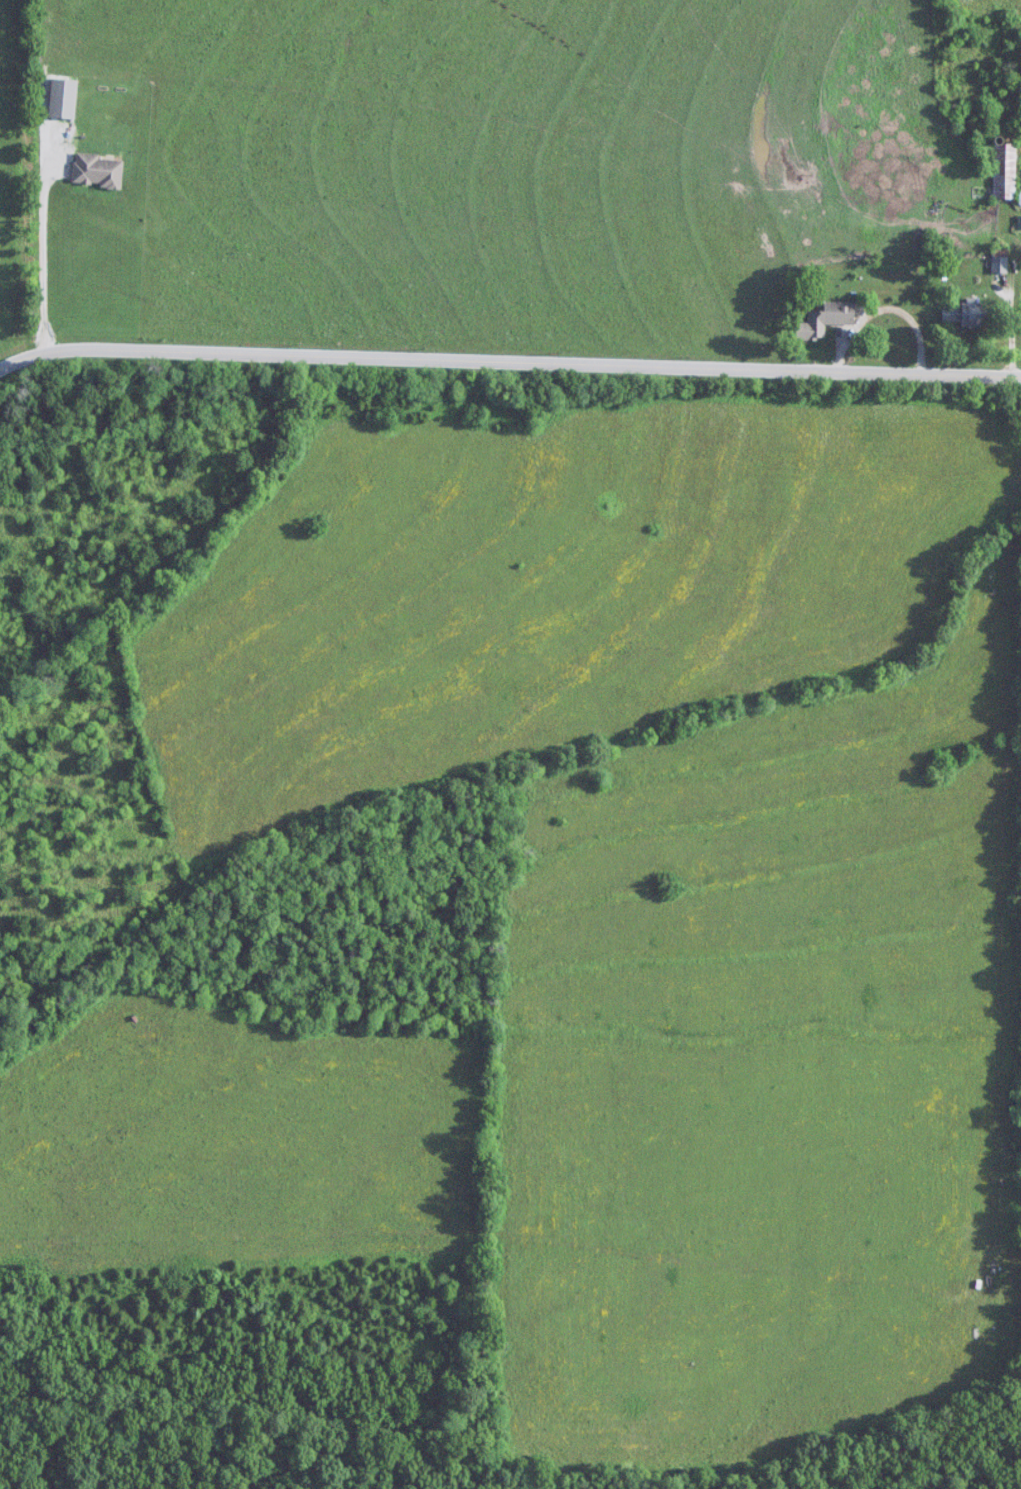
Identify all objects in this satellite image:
crop: (987, 7)
building: (63, 99)
building: (98, 171)
building: (1004, 172)
road: (42, 239)
building: (999, 265)
building: (967, 314)
building: (825, 321)
road: (506, 356)
crop: (542, 591)
crop: (767, 1062)

